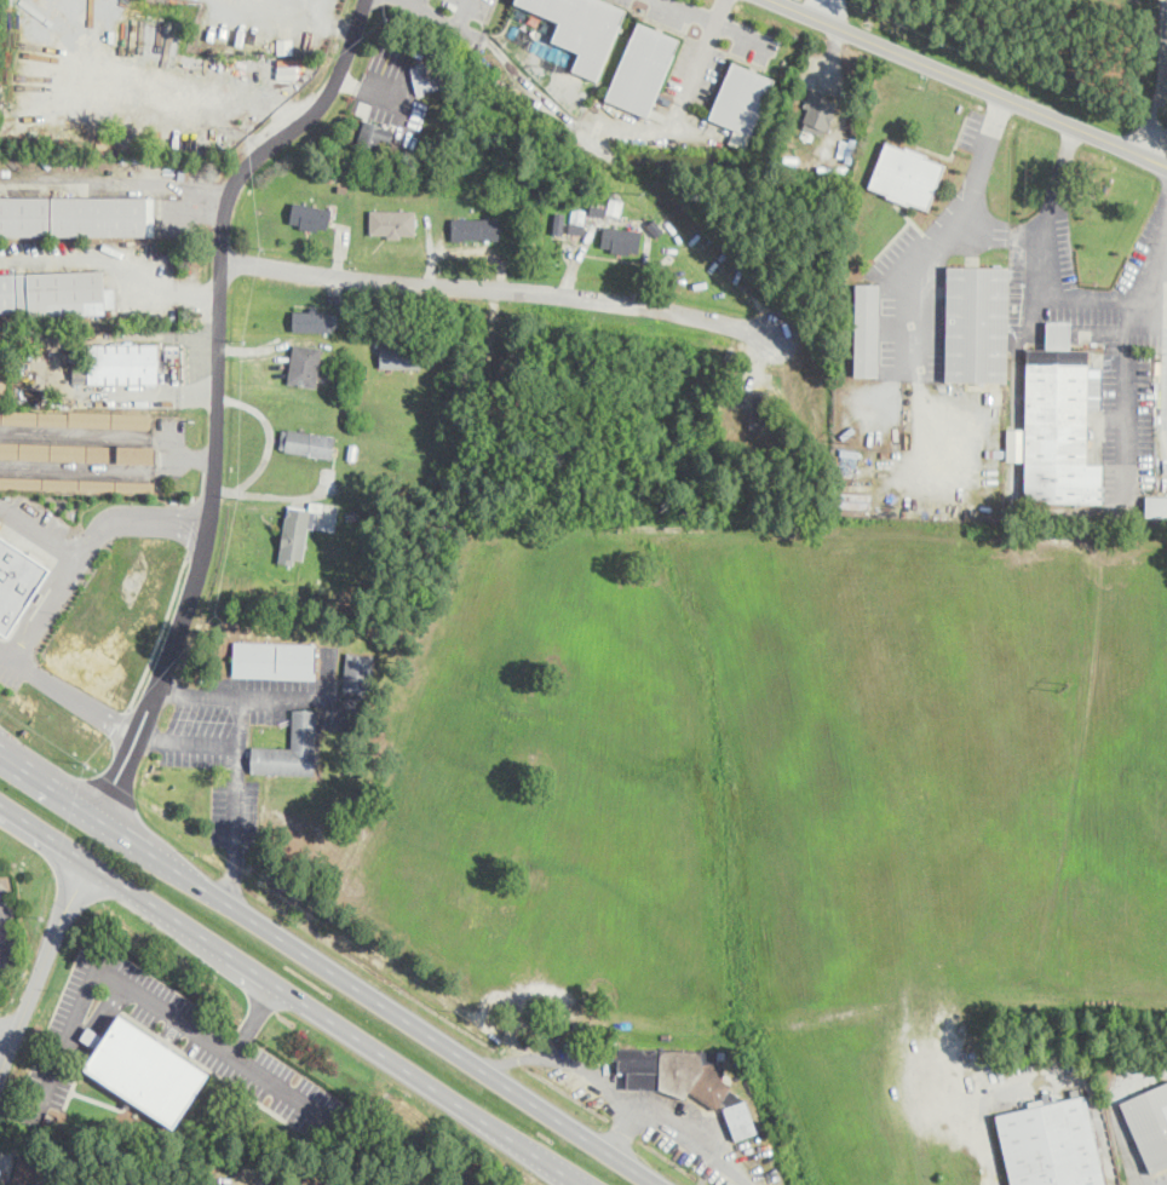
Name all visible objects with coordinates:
road: (415, 2)
building: (545, 6)
road: (690, 10)
road: (719, 10)
road: (822, 11)
road: (431, 13)
road: (461, 13)
road: (329, 22)
building: (590, 33)
building: (642, 68)
road: (691, 75)
building: (426, 76)
road: (966, 82)
building: (741, 102)
building: (817, 114)
road: (1161, 120)
building: (373, 134)
building: (907, 174)
power tower: (640, 191)
building: (310, 214)
building: (75, 215)
building: (558, 222)
building: (392, 223)
building: (475, 228)
road: (949, 232)
building: (620, 238)
road: (113, 254)
road: (1160, 266)
road: (506, 288)
building: (53, 293)
road: (1047, 294)
road: (1150, 310)
building: (312, 318)
building: (976, 323)
building: (866, 329)
road: (217, 351)
building: (398, 355)
building: (114, 361)
building: (304, 363)
building: (2, 364)
road: (1122, 402)
building: (758, 407)
building: (75, 419)
building: (1059, 422)
power tower: (851, 437)
building: (306, 442)
building: (76, 451)
building: (76, 482)
road: (251, 491)
building: (1156, 506)
building: (294, 534)
road: (39, 535)
road: (88, 546)
building: (17, 581)
road: (34, 602)
road: (162, 633)
building: (274, 660)
building: (357, 671)
power tower: (1062, 686)
road: (172, 690)
road: (67, 694)
road: (266, 698)
road: (148, 740)
road: (201, 744)
building: (289, 748)
road: (240, 771)
road: (119, 780)
road: (234, 874)
road: (5, 926)
road: (2, 928)
road: (44, 966)
road: (327, 968)
road: (291, 995)
road: (148, 999)
road: (254, 1020)
road: (99, 1022)
road: (6, 1034)
building: (144, 1069)
building: (672, 1071)
road: (1045, 1078)
road: (617, 1098)
road: (18, 1111)
road: (1116, 1111)
building: (740, 1118)
building: (1150, 1123)
road: (622, 1133)
building: (1047, 1144)
building: (27, 1173)
parking lot: (1160, 1178)
road: (266, 1184)

